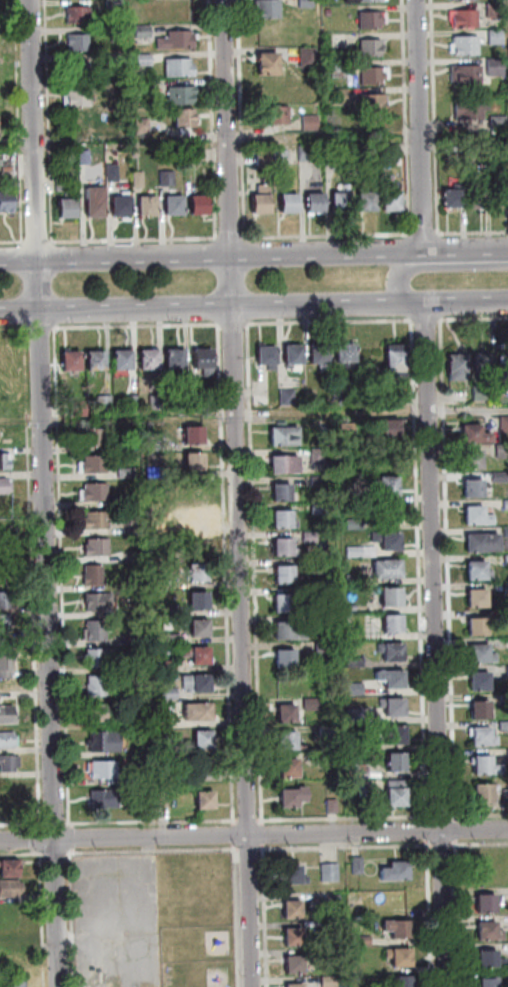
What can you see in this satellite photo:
building: (369, 0)
building: (114, 4)
building: (307, 4)
building: (269, 9)
building: (495, 10)
building: (329, 12)
building: (79, 15)
building: (465, 18)
building: (373, 20)
building: (144, 31)
building: (497, 38)
building: (177, 40)
building: (79, 43)
building: (465, 46)
building: (372, 48)
building: (309, 56)
building: (114, 60)
building: (144, 60)
building: (269, 62)
building: (496, 67)
building: (340, 68)
building: (180, 69)
building: (79, 71)
building: (374, 75)
building: (467, 75)
building: (146, 89)
building: (181, 95)
building: (341, 96)
building: (80, 98)
building: (373, 104)
building: (472, 110)
building: (277, 115)
road: (407, 116)
road: (436, 117)
building: (185, 118)
road: (213, 119)
road: (243, 119)
road: (19, 121)
road: (50, 121)
building: (499, 121)
building: (311, 123)
building: (144, 126)
road: (422, 126)
building: (454, 147)
building: (393, 149)
building: (309, 152)
building: (333, 152)
building: (137, 153)
building: (281, 157)
building: (86, 158)
building: (265, 158)
building: (113, 173)
building: (168, 178)
building: (140, 179)
building: (499, 192)
building: (477, 194)
building: (454, 196)
building: (67, 199)
building: (342, 199)
building: (7, 200)
building: (262, 200)
building: (368, 200)
building: (392, 200)
building: (315, 201)
building: (97, 202)
building: (290, 202)
building: (175, 204)
building: (200, 204)
building: (122, 205)
building: (149, 205)
road: (473, 233)
road: (425, 234)
road: (328, 236)
road: (231, 239)
road: (135, 240)
road: (39, 242)
road: (12, 243)
road: (459, 251)
road: (205, 256)
road: (396, 278)
road: (465, 302)
road: (211, 307)
road: (424, 322)
road: (438, 322)
road: (328, 324)
road: (137, 326)
road: (233, 326)
road: (41, 329)
road: (13, 330)
building: (292, 356)
building: (345, 356)
building: (318, 357)
building: (266, 358)
building: (123, 359)
building: (150, 359)
building: (73, 360)
building: (176, 360)
building: (205, 360)
building: (395, 361)
building: (503, 361)
building: (97, 362)
building: (481, 363)
building: (454, 368)
building: (478, 395)
building: (286, 399)
building: (336, 399)
building: (395, 400)
building: (210, 401)
building: (157, 402)
building: (185, 402)
building: (106, 403)
building: (134, 403)
building: (81, 408)
road: (275, 417)
building: (503, 425)
building: (383, 431)
building: (346, 433)
building: (195, 435)
building: (473, 435)
building: (94, 437)
building: (283, 437)
building: (155, 444)
building: (501, 454)
building: (317, 458)
building: (5, 461)
building: (470, 461)
building: (196, 462)
building: (94, 465)
building: (283, 466)
building: (127, 473)
building: (156, 473)
building: (497, 479)
building: (317, 483)
building: (5, 486)
building: (384, 487)
building: (472, 490)
road: (46, 493)
building: (95, 493)
road: (235, 493)
building: (281, 494)
building: (349, 497)
building: (505, 507)
building: (317, 511)
building: (388, 515)
building: (475, 517)
building: (198, 518)
building: (97, 521)
building: (281, 521)
building: (352, 527)
building: (171, 530)
building: (504, 534)
building: (308, 539)
road: (446, 539)
building: (386, 542)
building: (480, 544)
building: (98, 548)
building: (282, 549)
building: (359, 554)
building: (505, 562)
building: (313, 569)
building: (386, 571)
building: (199, 572)
building: (476, 572)
road: (417, 573)
building: (94, 576)
road: (227, 576)
road: (253, 576)
road: (35, 577)
building: (283, 577)
road: (63, 578)
building: (163, 582)
building: (352, 582)
building: (506, 590)
building: (312, 594)
building: (390, 598)
building: (7, 600)
building: (200, 600)
building: (477, 600)
building: (101, 602)
building: (282, 604)
building: (169, 610)
building: (350, 610)
building: (504, 617)
building: (7, 623)
building: (321, 624)
building: (391, 625)
building: (202, 628)
building: (476, 628)
building: (95, 631)
building: (288, 632)
building: (175, 639)
building: (132, 640)
road: (435, 644)
building: (506, 645)
building: (323, 652)
building: (390, 653)
building: (199, 655)
building: (479, 655)
building: (102, 658)
building: (7, 659)
building: (284, 661)
building: (353, 664)
building: (169, 667)
building: (507, 673)
building: (390, 681)
building: (478, 683)
building: (199, 684)
building: (98, 686)
building: (353, 691)
building: (170, 695)
building: (0, 696)
building: (310, 706)
building: (392, 709)
building: (479, 711)
building: (200, 712)
building: (103, 713)
building: (8, 715)
building: (158, 715)
building: (285, 715)
building: (353, 718)
building: (137, 723)
building: (503, 728)
building: (325, 734)
building: (392, 736)
building: (481, 739)
building: (9, 740)
building: (205, 740)
building: (107, 741)
building: (286, 743)
building: (507, 757)
building: (10, 763)
building: (326, 763)
building: (395, 764)
building: (206, 766)
building: (483, 767)
building: (105, 770)
building: (288, 770)
building: (142, 775)
building: (170, 776)
building: (8, 786)
building: (365, 796)
building: (395, 796)
building: (482, 796)
building: (106, 799)
building: (291, 799)
building: (504, 799)
building: (166, 800)
building: (207, 800)
building: (330, 809)
building: (7, 810)
road: (479, 817)
road: (442, 818)
road: (344, 820)
road: (152, 822)
road: (247, 822)
road: (55, 824)
road: (22, 826)
road: (456, 831)
road: (428, 832)
road: (253, 835)
road: (263, 835)
road: (235, 836)
road: (34, 837)
road: (71, 839)
road: (480, 845)
road: (443, 846)
road: (345, 847)
road: (249, 850)
road: (156, 851)
road: (34, 852)
road: (56, 857)
road: (69, 857)
road: (44, 858)
building: (358, 866)
building: (11, 869)
building: (396, 872)
building: (331, 873)
building: (295, 876)
building: (11, 888)
road: (43, 899)
building: (334, 901)
building: (488, 903)
building: (293, 910)
road: (430, 913)
road: (459, 913)
road: (265, 915)
road: (237, 916)
road: (73, 919)
building: (399, 929)
building: (10, 932)
building: (490, 932)
building: (295, 937)
building: (363, 941)
building: (401, 957)
building: (492, 960)
building: (296, 965)
building: (13, 981)
building: (330, 982)
building: (405, 982)
building: (490, 982)
building: (297, 986)

